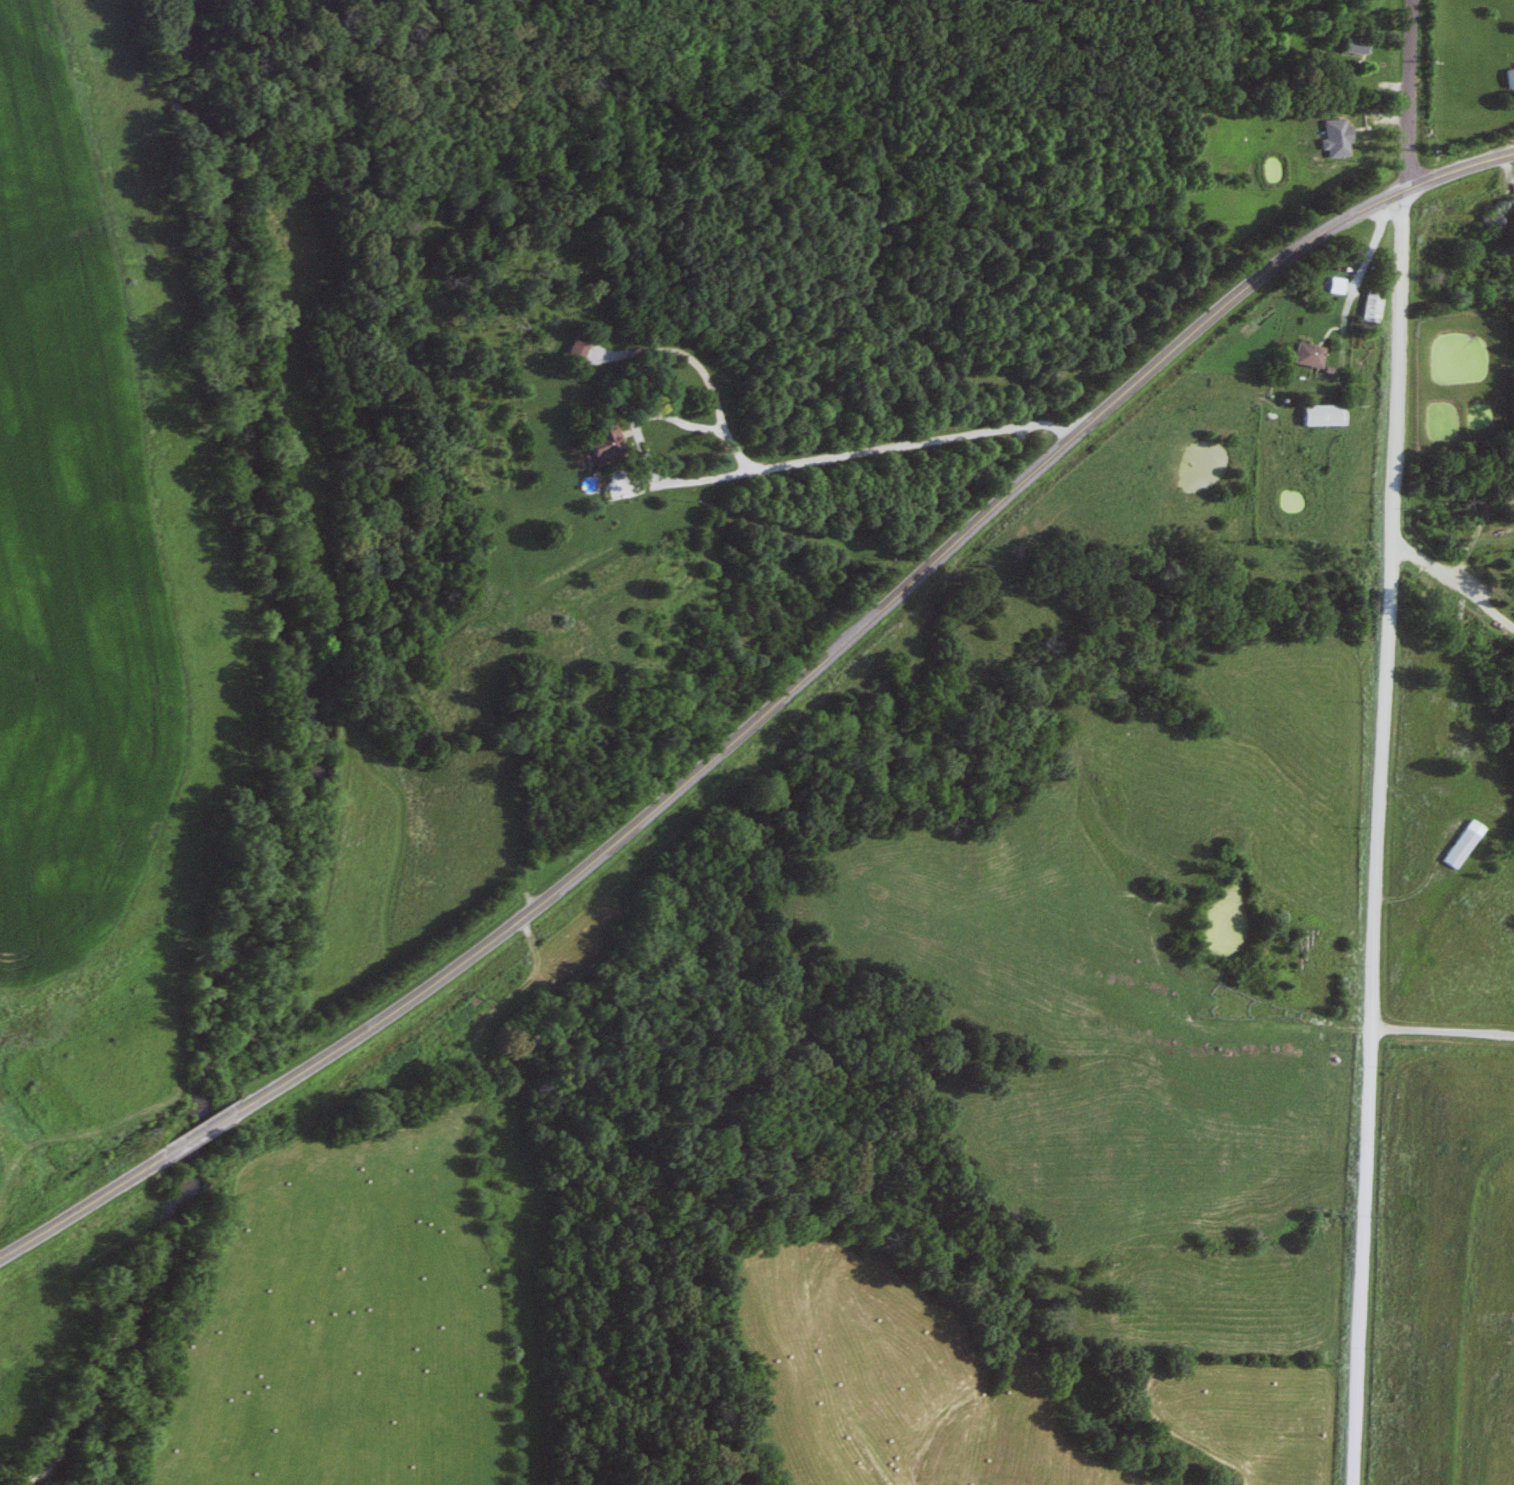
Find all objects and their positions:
building: (1350, 46)
building: (1507, 78)
building: (1334, 144)
building: (1489, 222)
building: (1368, 308)
road: (1352, 310)
building: (574, 347)
building: (1304, 357)
building: (1319, 416)
building: (597, 445)
road: (797, 471)
road: (707, 490)
building: (1512, 501)
road: (1458, 580)
road: (765, 718)
road: (1382, 742)
building: (1460, 846)
road: (1440, 1030)

